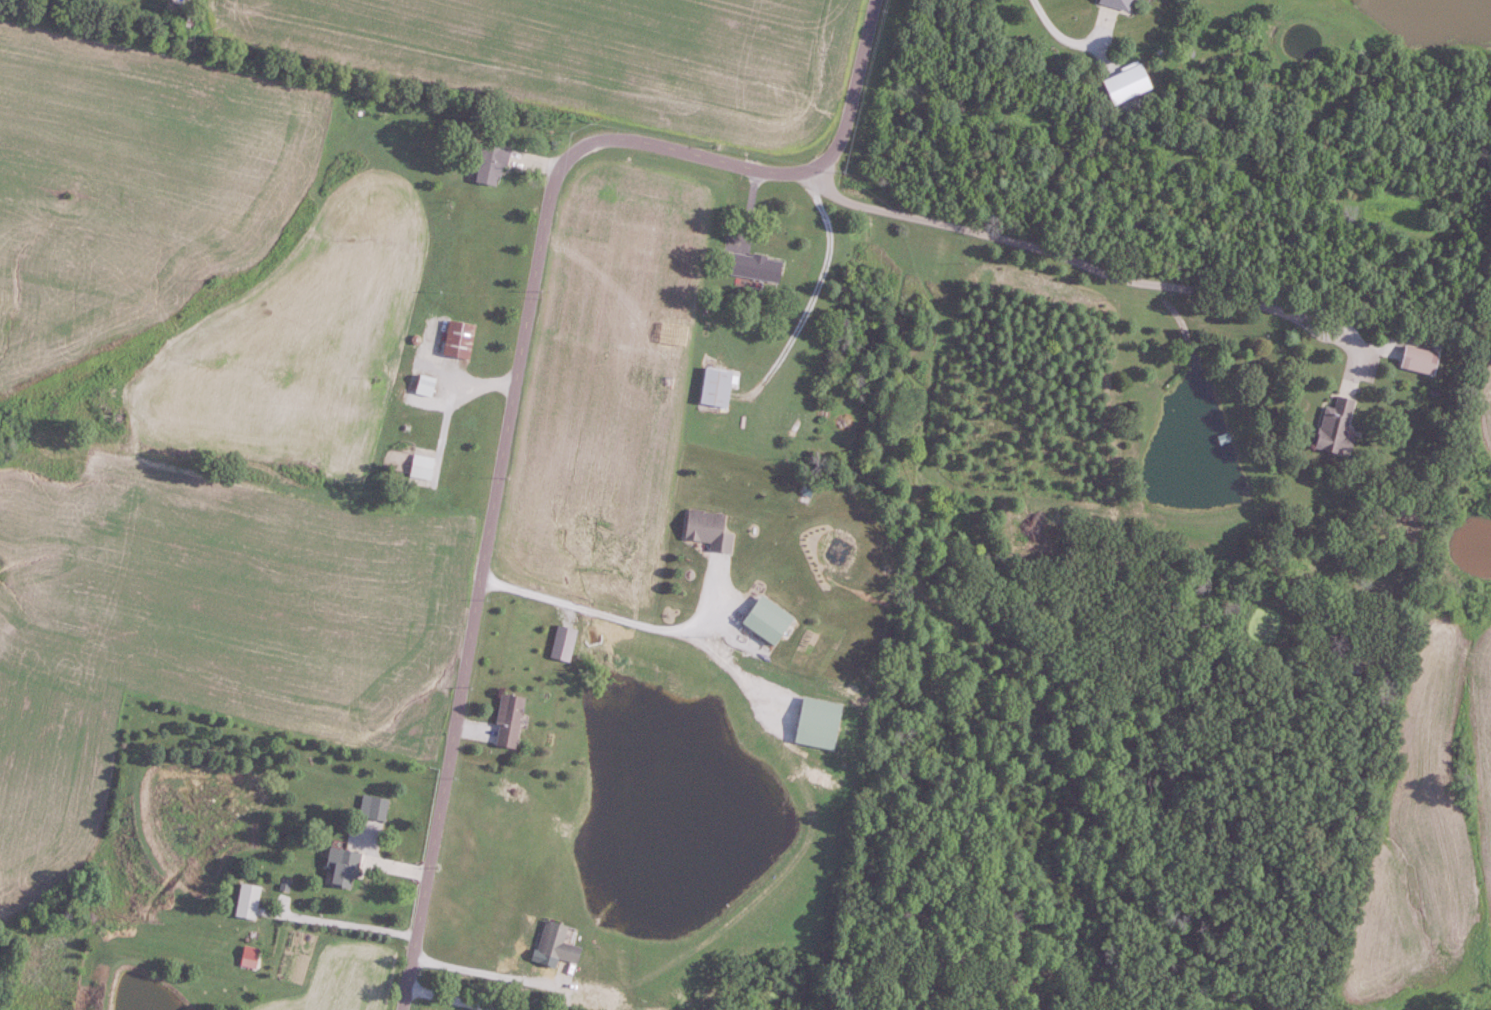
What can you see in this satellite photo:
building: (1116, 3)
road: (1073, 43)
building: (1124, 83)
building: (494, 164)
building: (754, 266)
road: (1097, 266)
road: (814, 296)
building: (462, 338)
building: (1417, 360)
road: (519, 365)
building: (430, 380)
building: (713, 386)
building: (1334, 428)
building: (425, 466)
building: (706, 530)
building: (764, 620)
road: (623, 621)
building: (561, 643)
road: (735, 670)
building: (507, 721)
building: (814, 723)
building: (375, 807)
building: (346, 867)
building: (251, 901)
road: (341, 924)
building: (555, 943)
road: (483, 970)
road: (451, 999)

